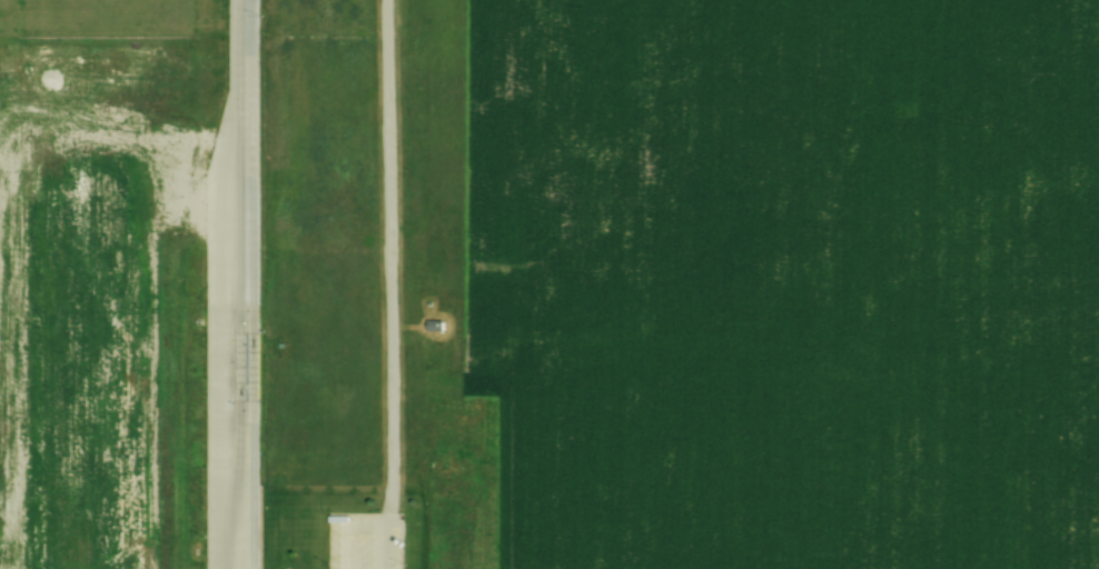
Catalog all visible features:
road: (246, 284)
road: (392, 284)
building: (434, 326)

